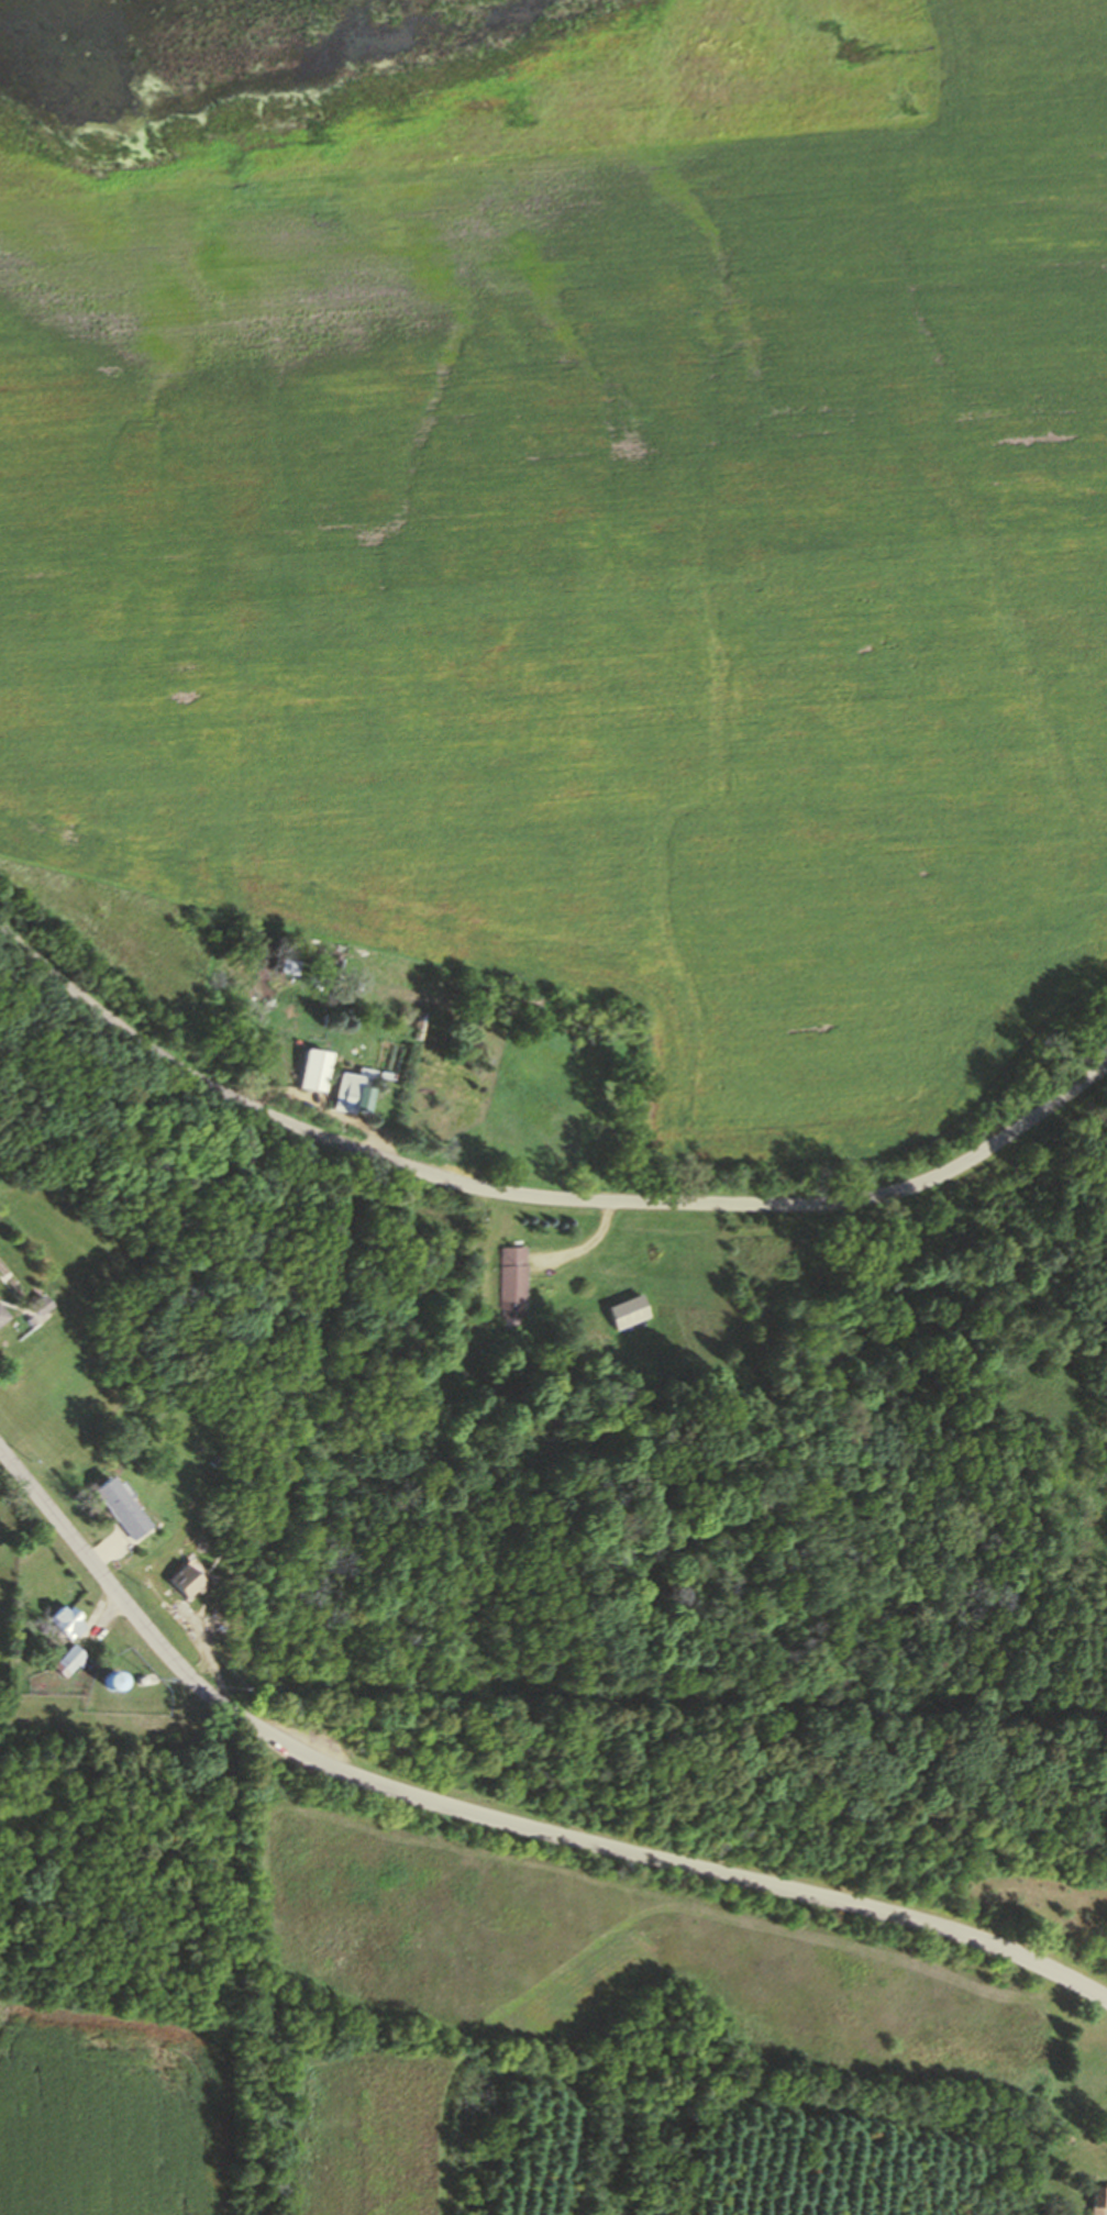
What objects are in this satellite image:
building: (312, 1068)
road: (288, 1096)
building: (353, 1098)
road: (534, 1194)
road: (584, 1245)
building: (511, 1280)
building: (40, 1304)
building: (631, 1310)
building: (3, 1316)
building: (118, 1508)
crop: (2, 1539)
road: (109, 1576)
building: (64, 1620)
building: (66, 1660)
building: (140, 1680)
water tower: (107, 1681)
road: (663, 1858)
building: (1097, 2200)

